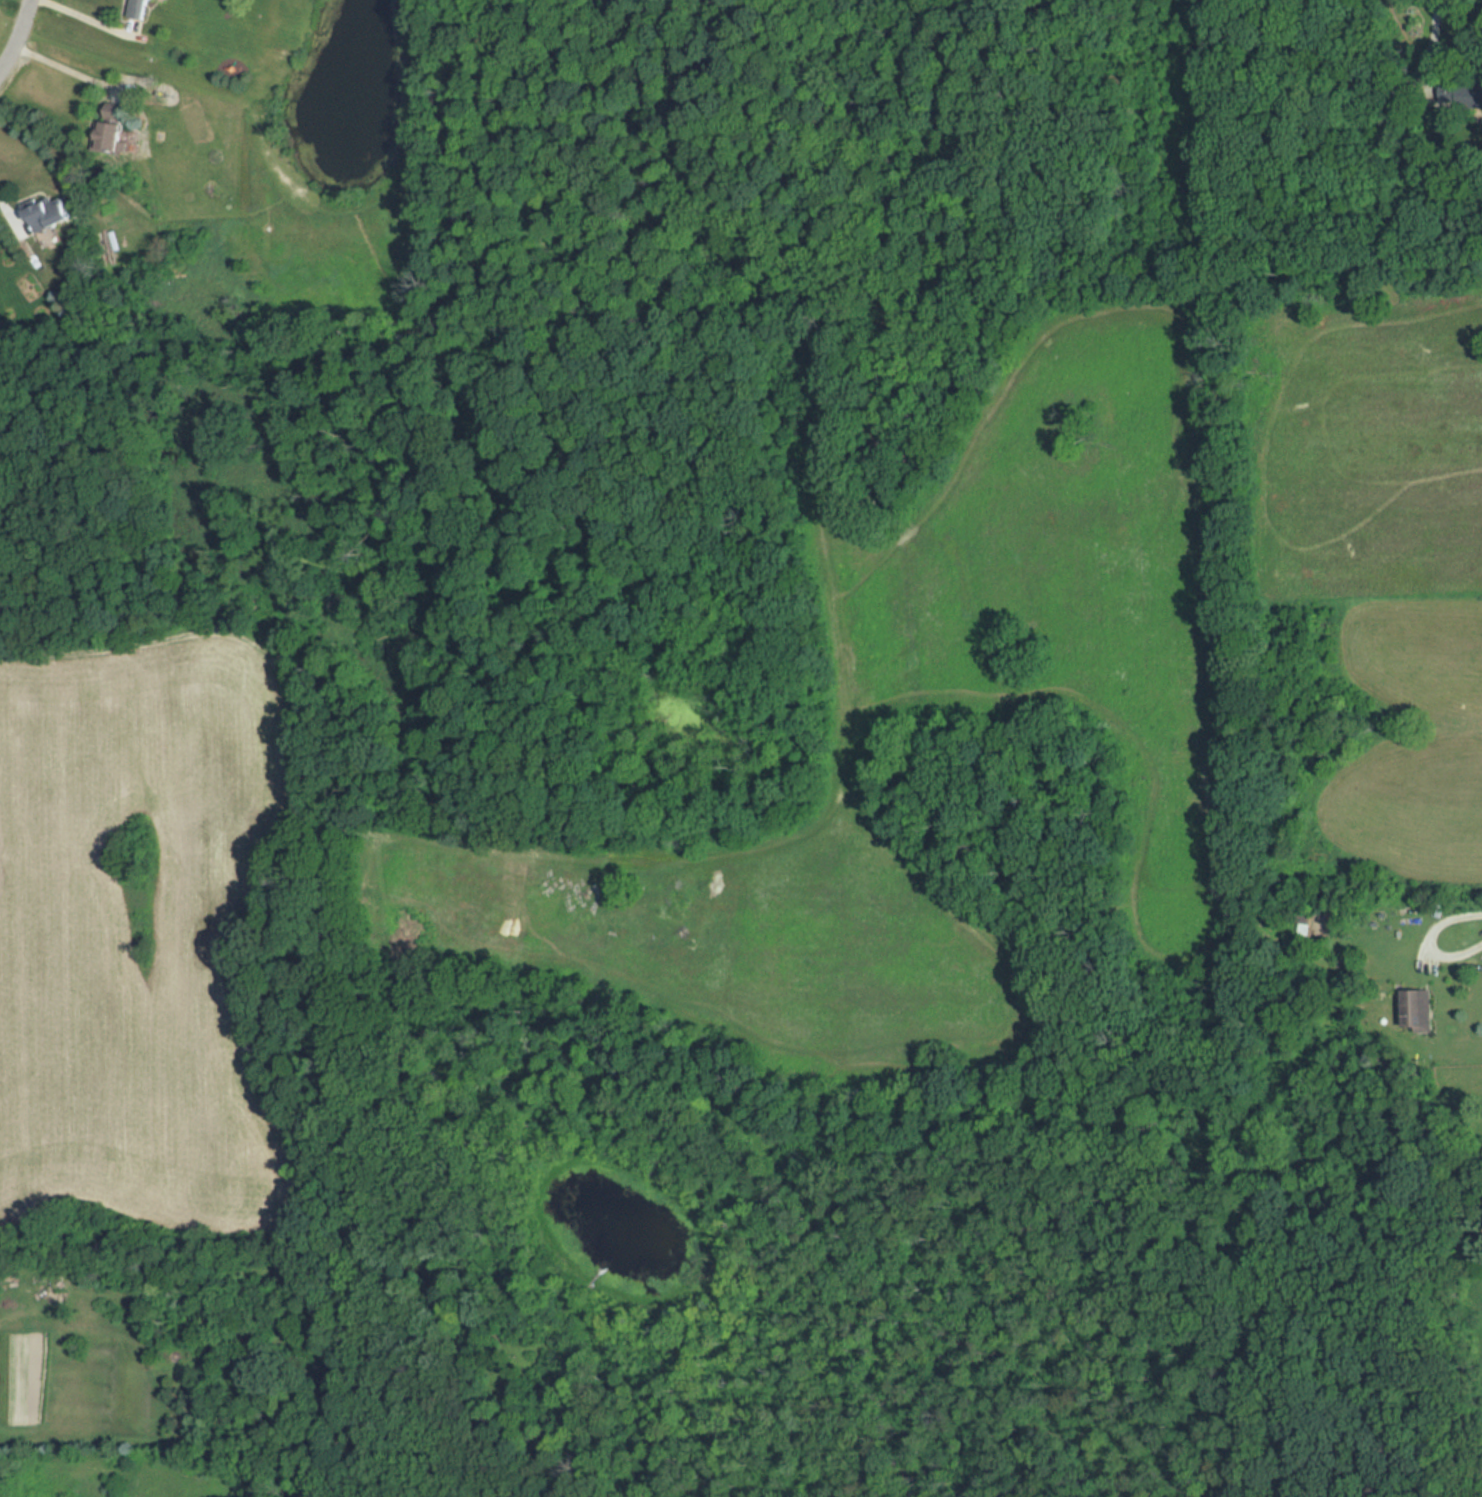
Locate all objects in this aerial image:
building: (142, 9)
road: (95, 15)
road: (17, 35)
road: (1432, 39)
road: (66, 68)
building: (112, 129)
road: (6, 208)
building: (49, 213)
road: (1430, 939)
building: (1419, 1010)

